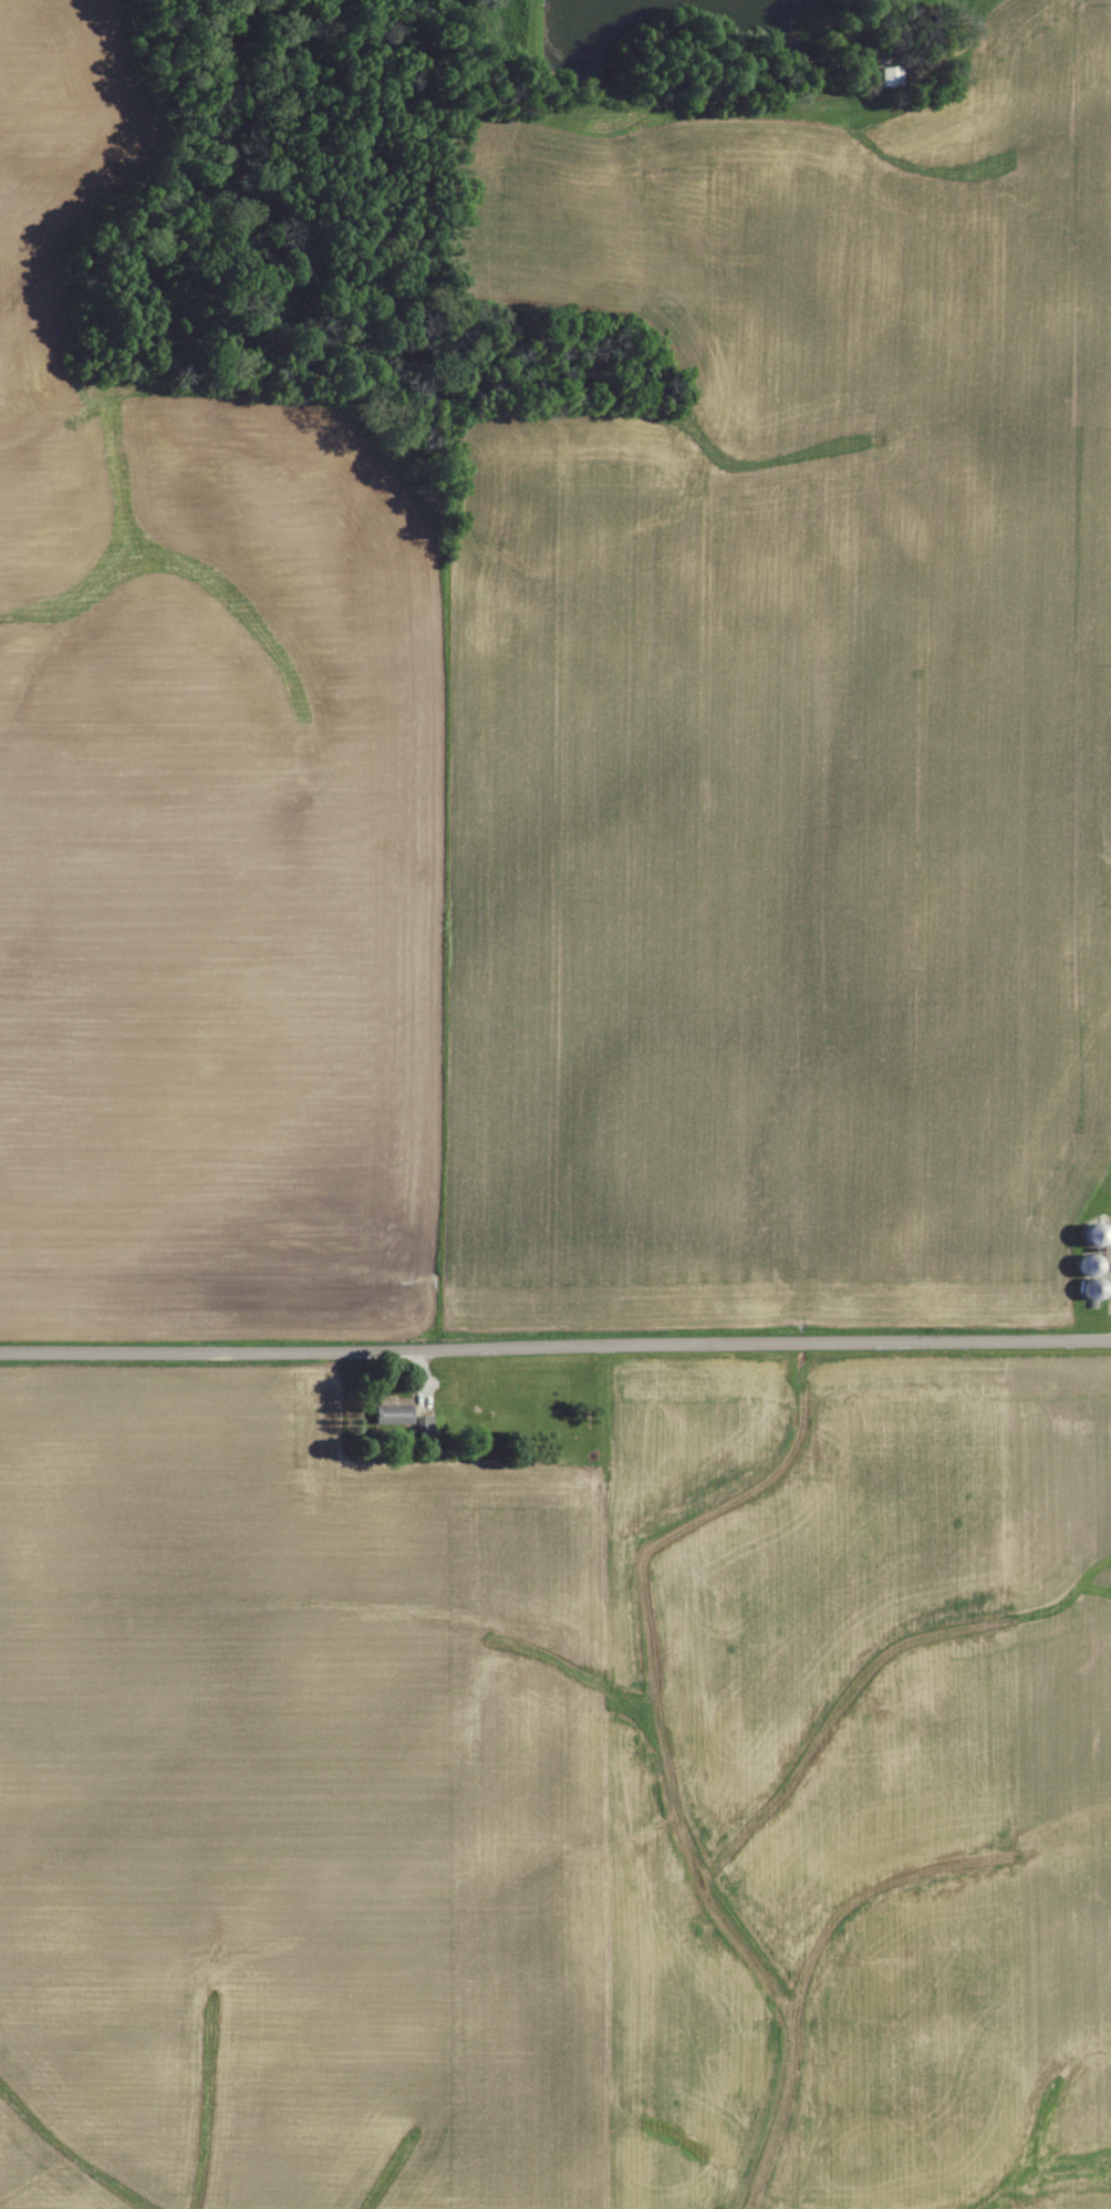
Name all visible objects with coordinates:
road: (555, 1349)
building: (391, 1415)
building: (424, 1423)

